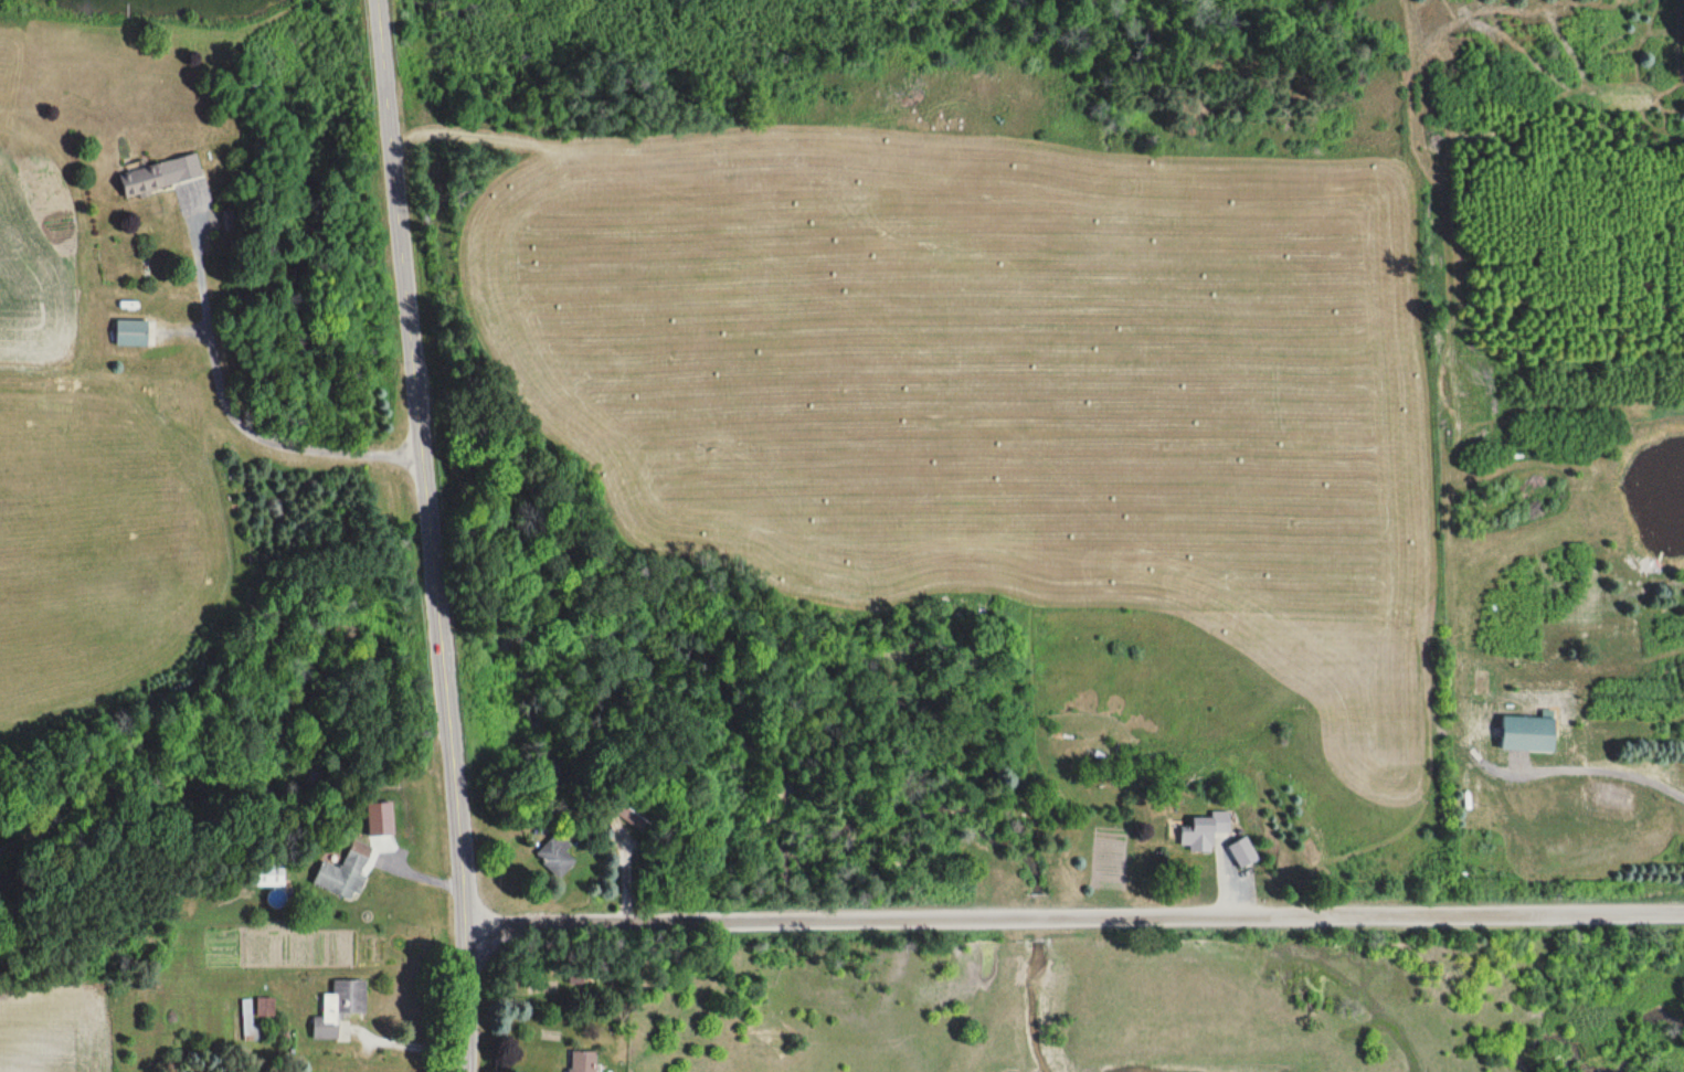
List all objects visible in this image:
building: (161, 174)
building: (134, 333)
road: (427, 535)
building: (1528, 734)
building: (1205, 831)
building: (1243, 853)
building: (557, 856)
building: (346, 872)
building: (269, 878)
road: (1077, 922)
building: (265, 1007)
building: (340, 1008)
building: (244, 1020)
building: (583, 1062)

